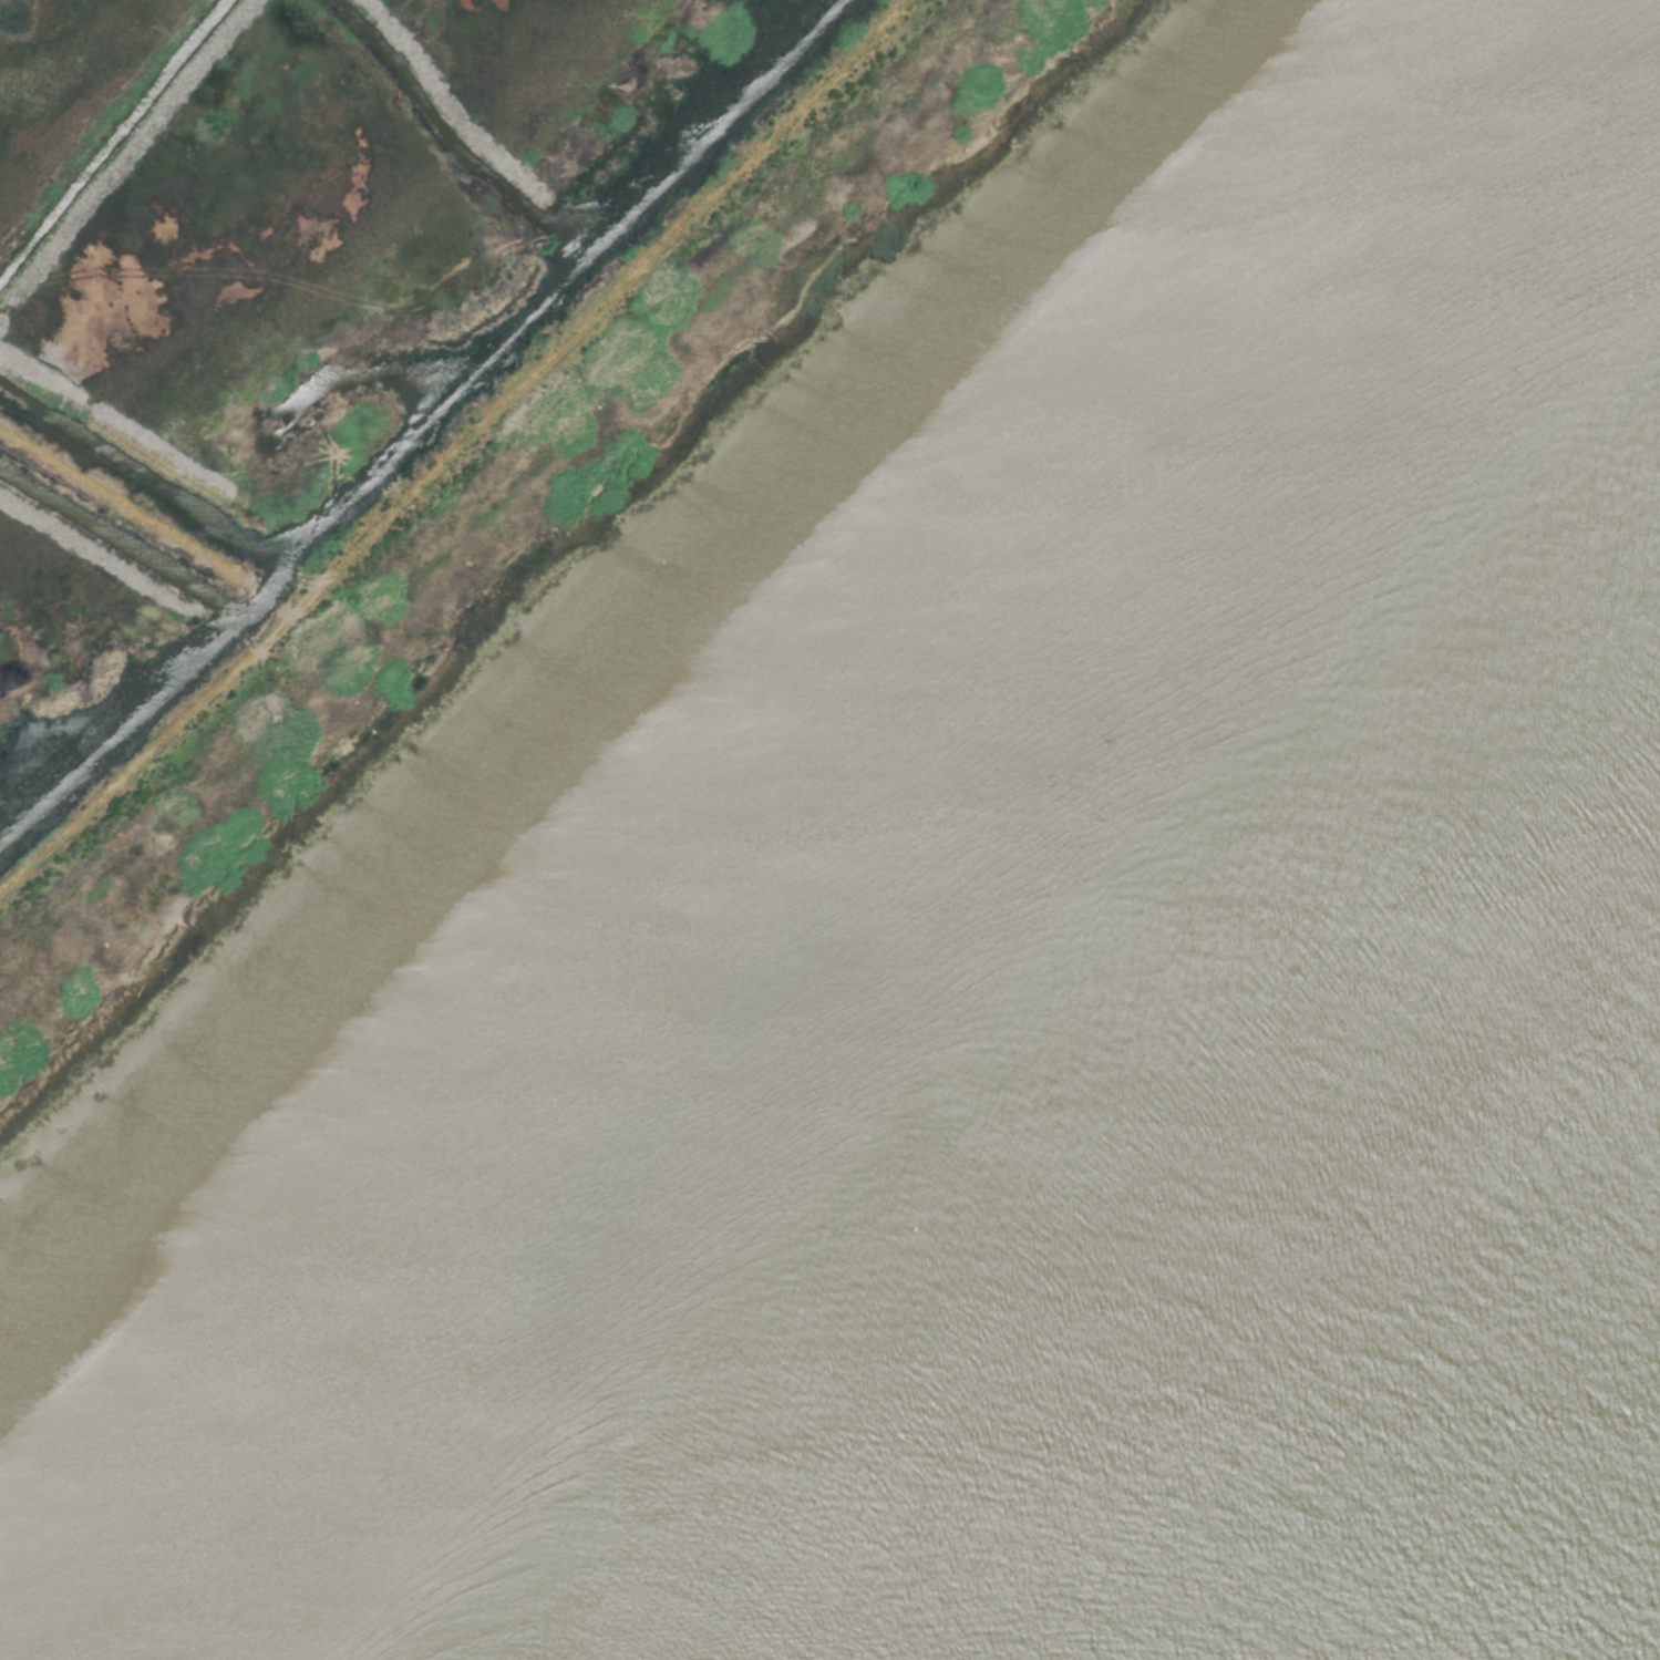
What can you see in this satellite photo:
road: (458, 453)

